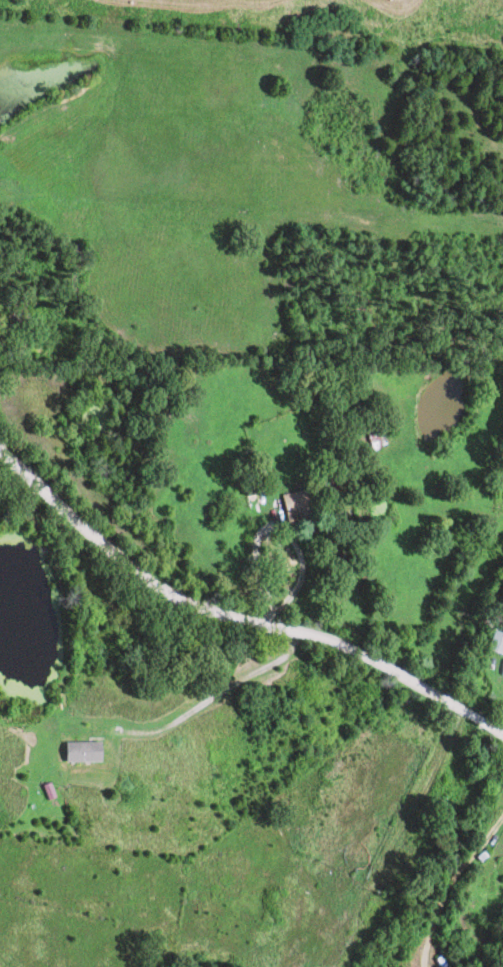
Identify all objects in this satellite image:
road: (232, 619)
building: (92, 751)

